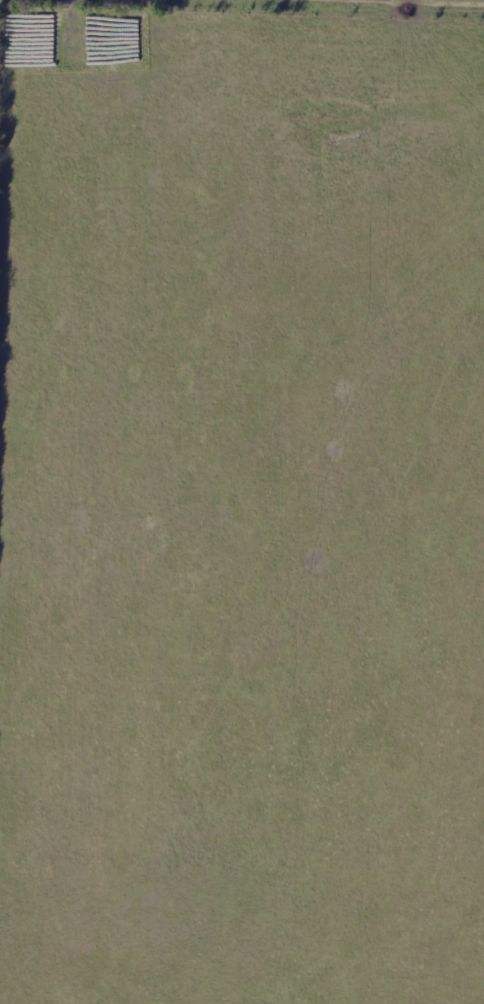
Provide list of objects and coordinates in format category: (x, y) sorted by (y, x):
road: (32, 25)

